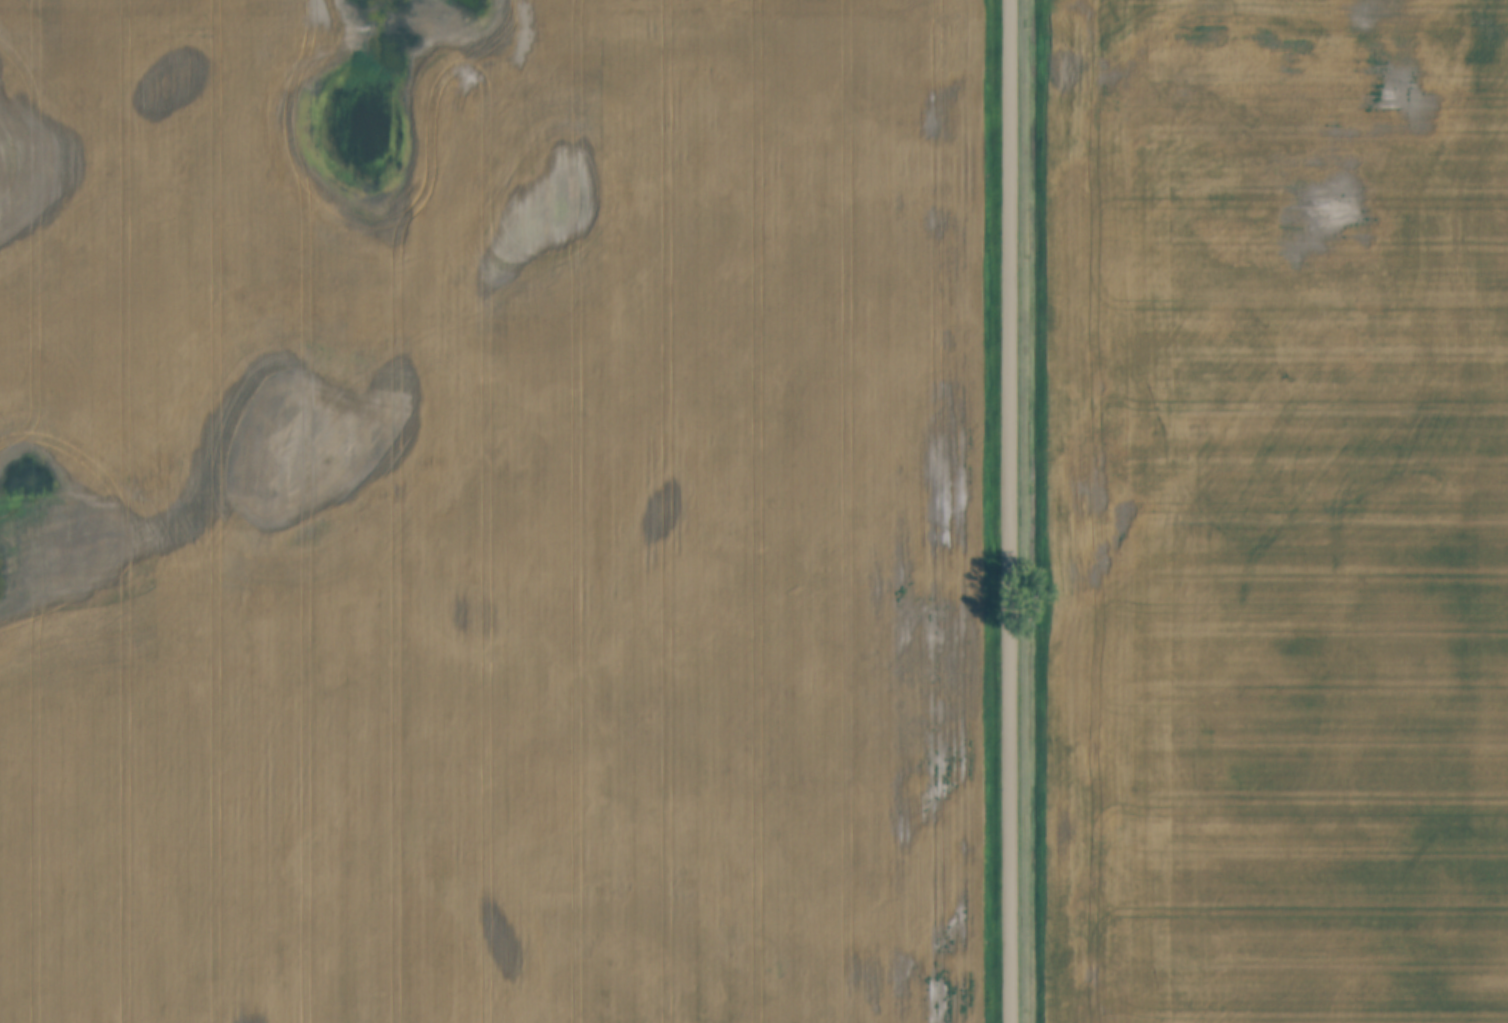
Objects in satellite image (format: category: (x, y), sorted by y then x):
road: (1015, 511)

